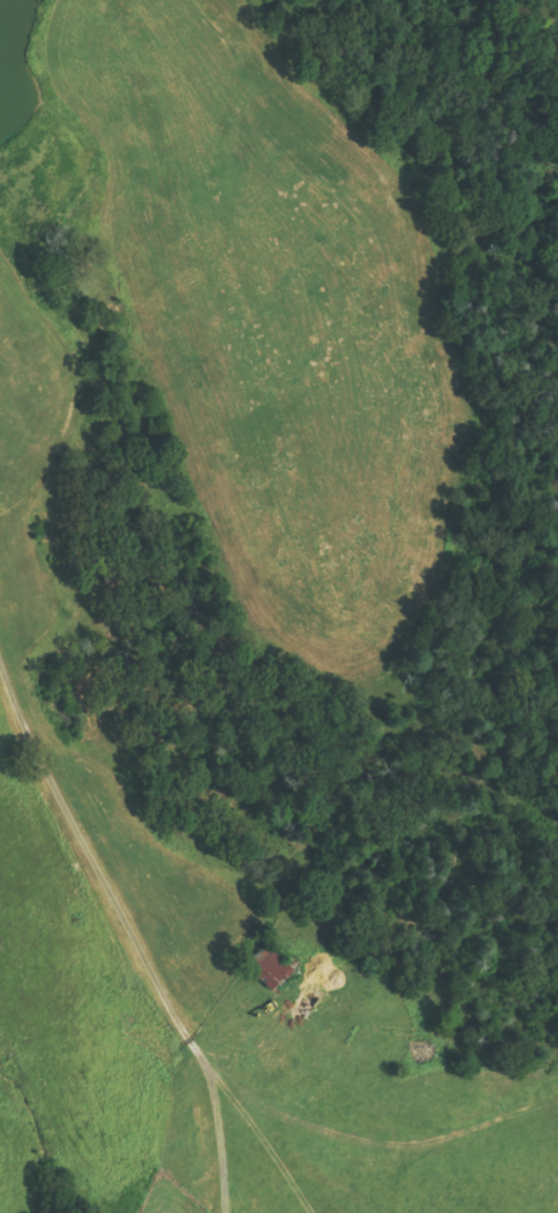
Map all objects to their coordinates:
road: (129, 931)
park: (169, 1195)

